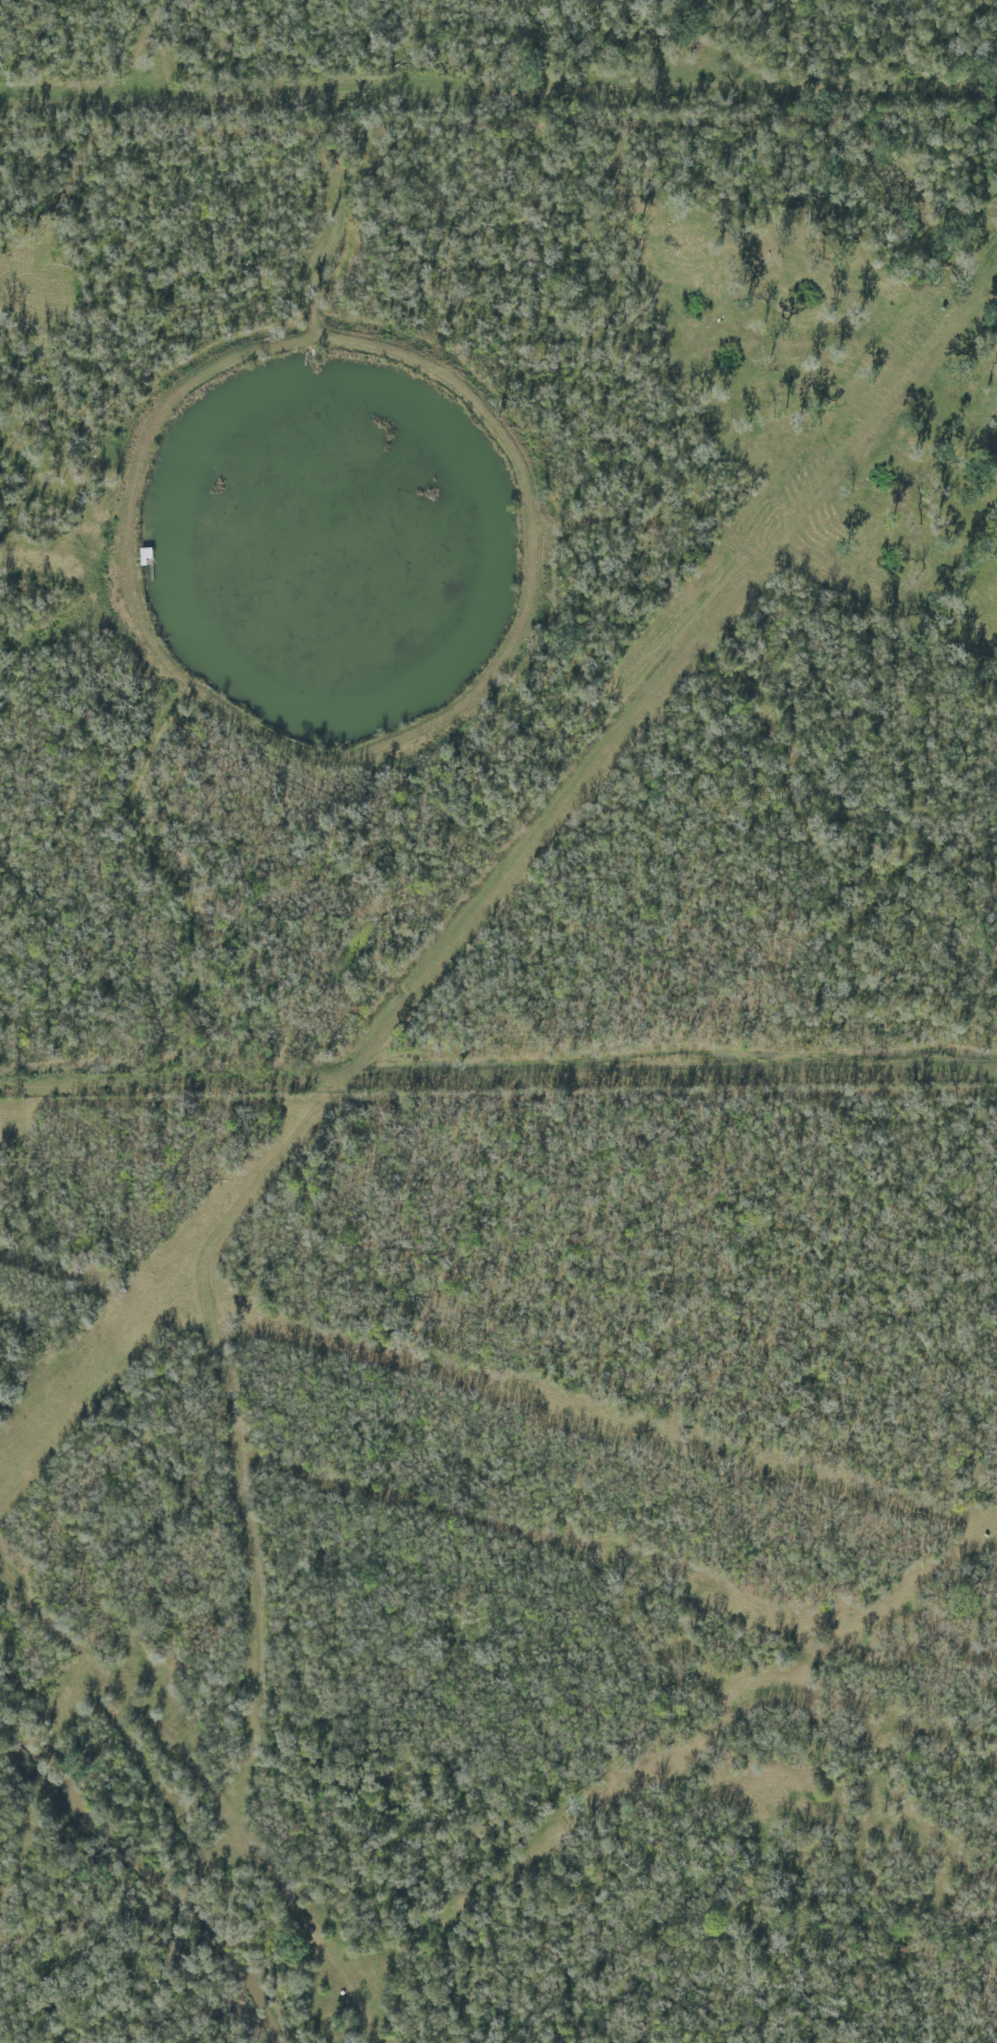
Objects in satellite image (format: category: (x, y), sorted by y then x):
river: (139, 1868)

